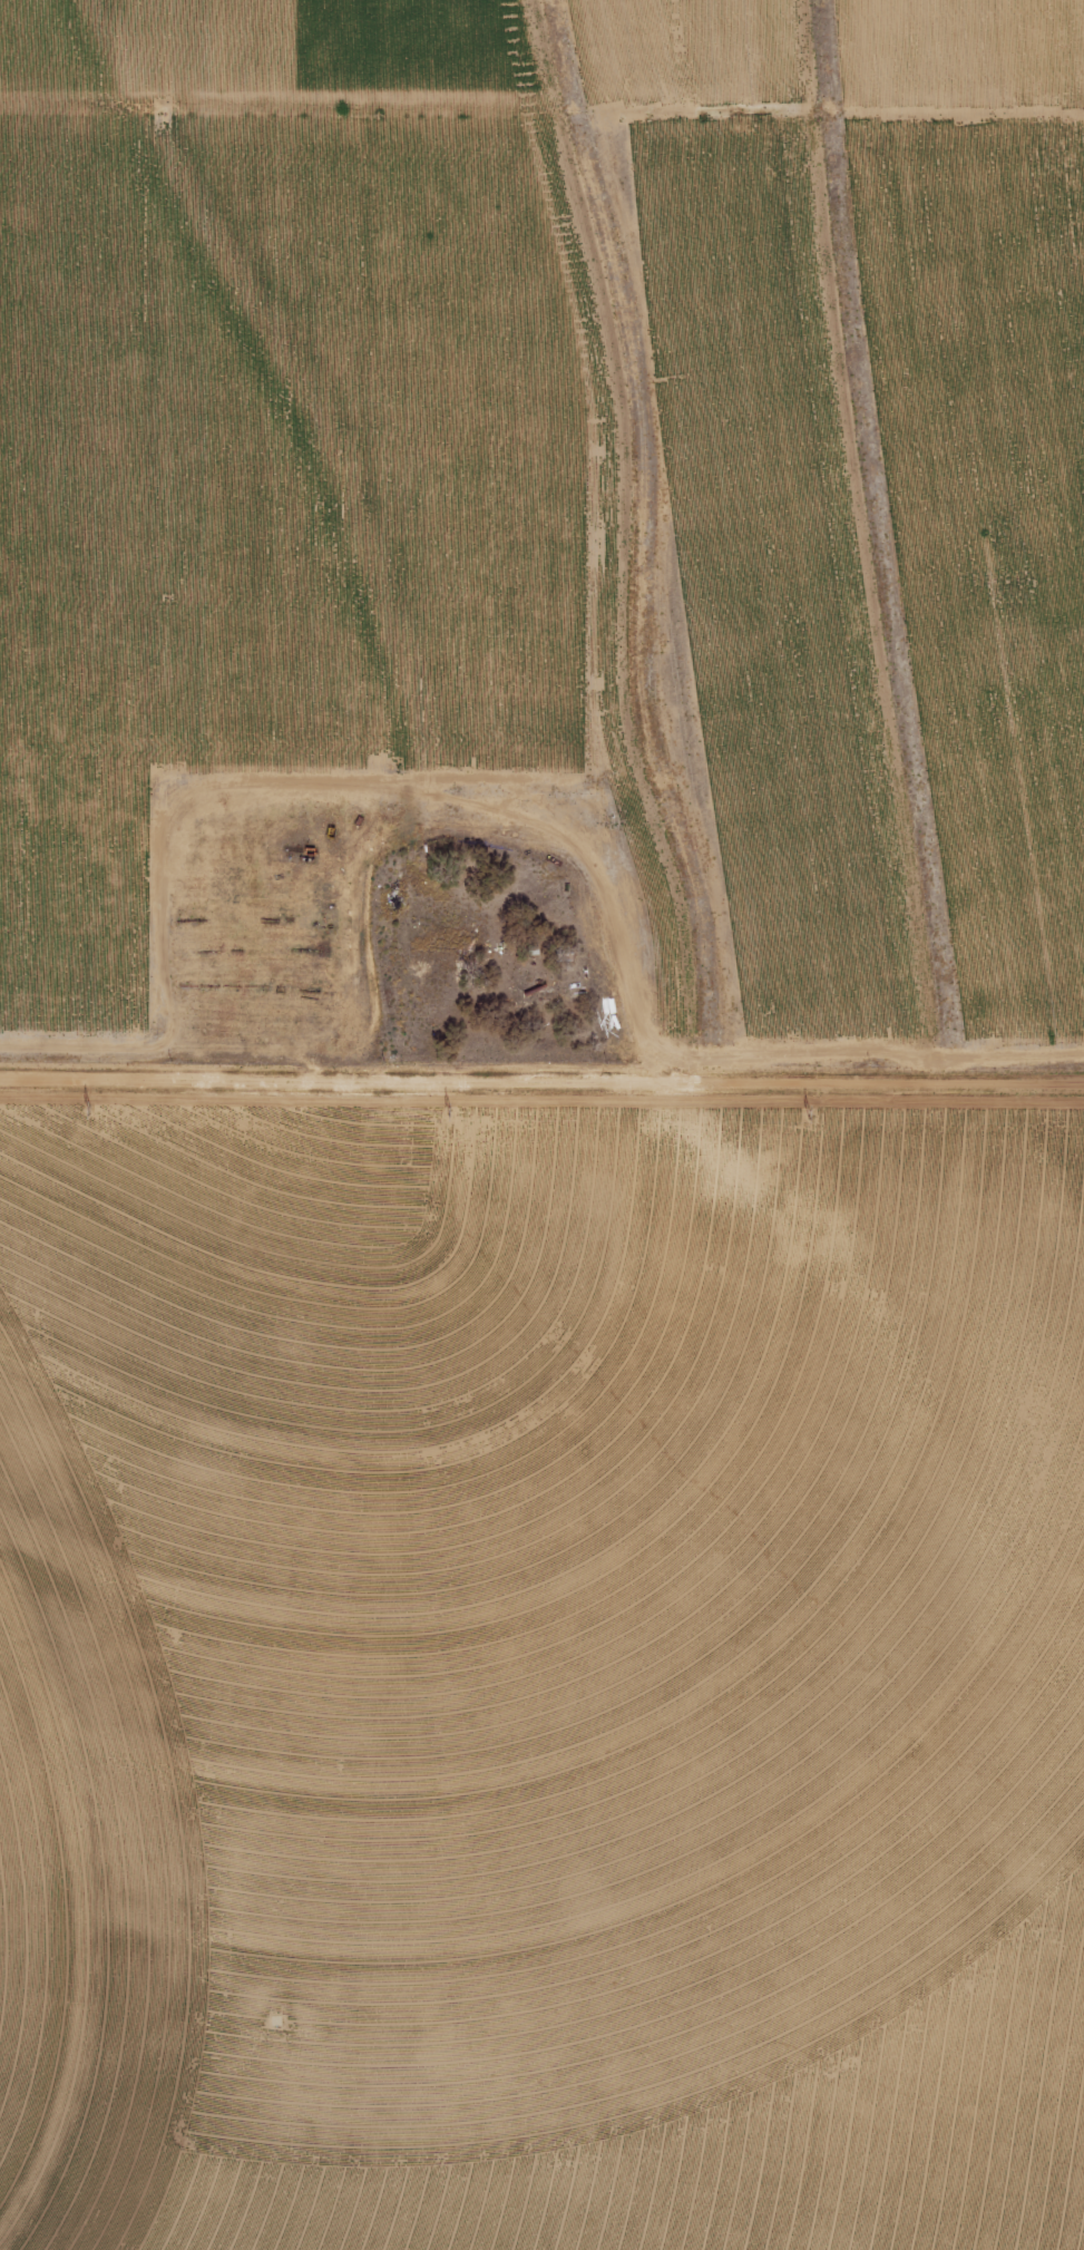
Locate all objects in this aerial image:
road: (541, 1088)
power tower: (85, 1109)
power tower: (445, 1109)
power tower: (803, 1110)

